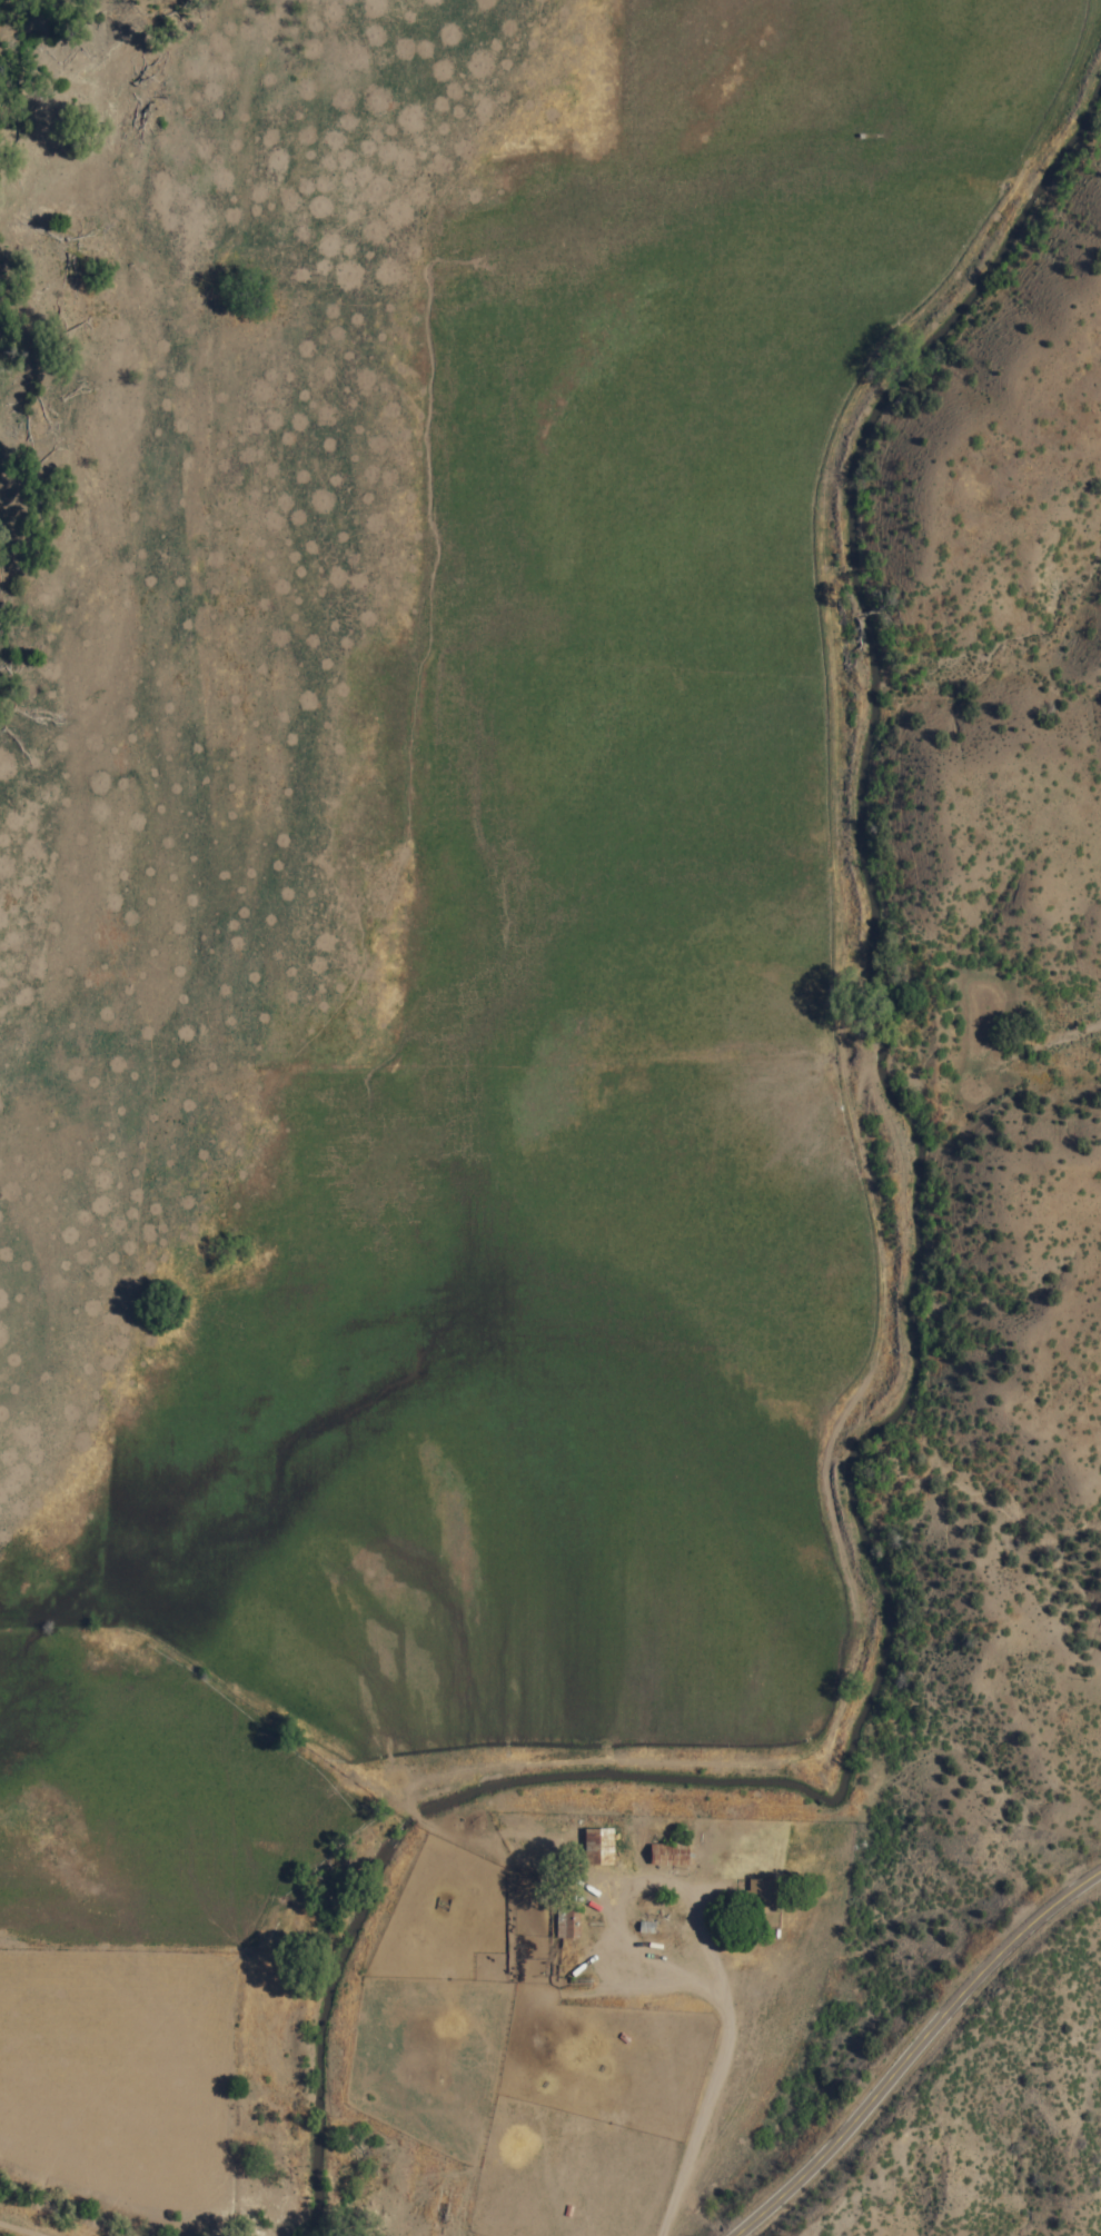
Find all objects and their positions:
building: (758, 1895)
road: (919, 2053)

